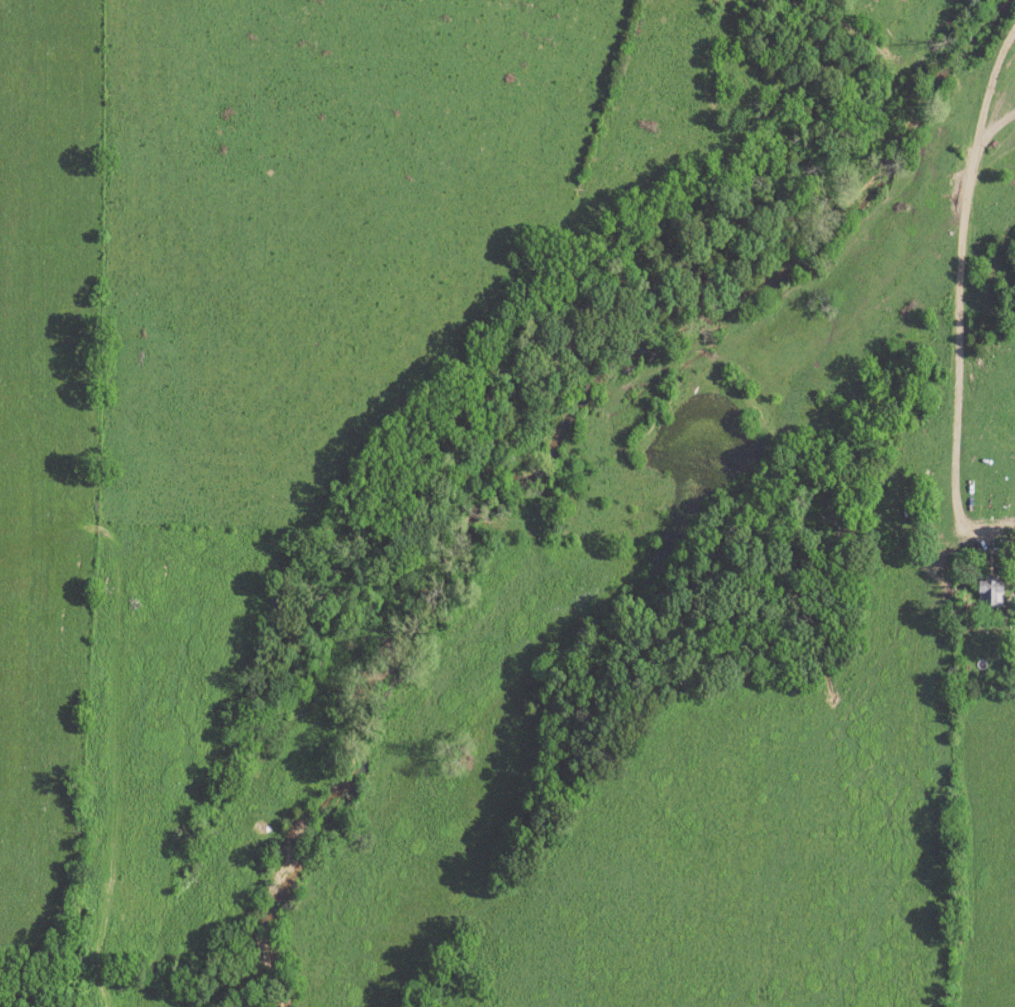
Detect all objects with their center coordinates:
road: (980, 157)
road: (957, 298)
building: (989, 591)

